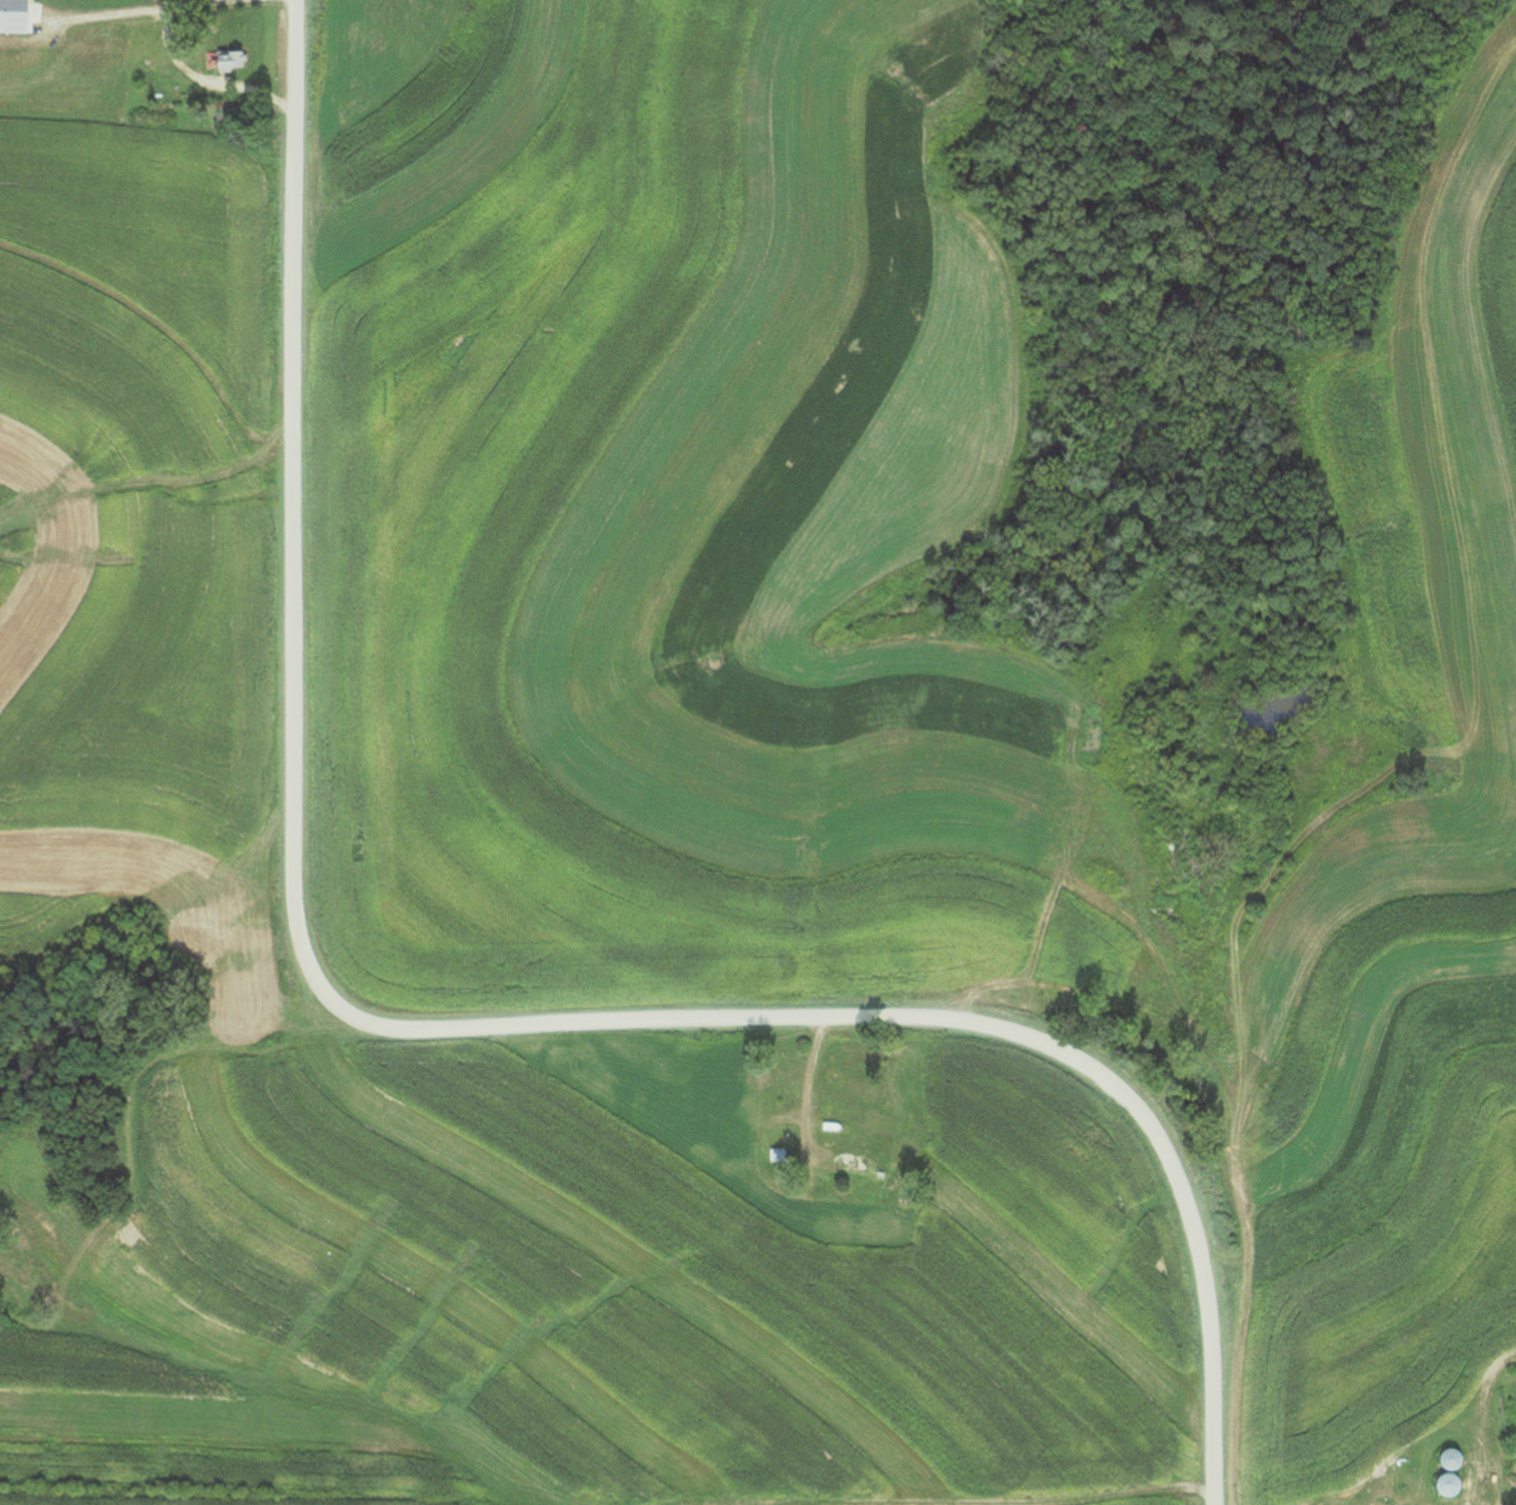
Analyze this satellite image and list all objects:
road: (133, 9)
building: (17, 16)
building: (231, 61)
road: (206, 80)
road: (436, 1035)
road: (804, 1074)
building: (1443, 1458)
building: (1441, 1484)

